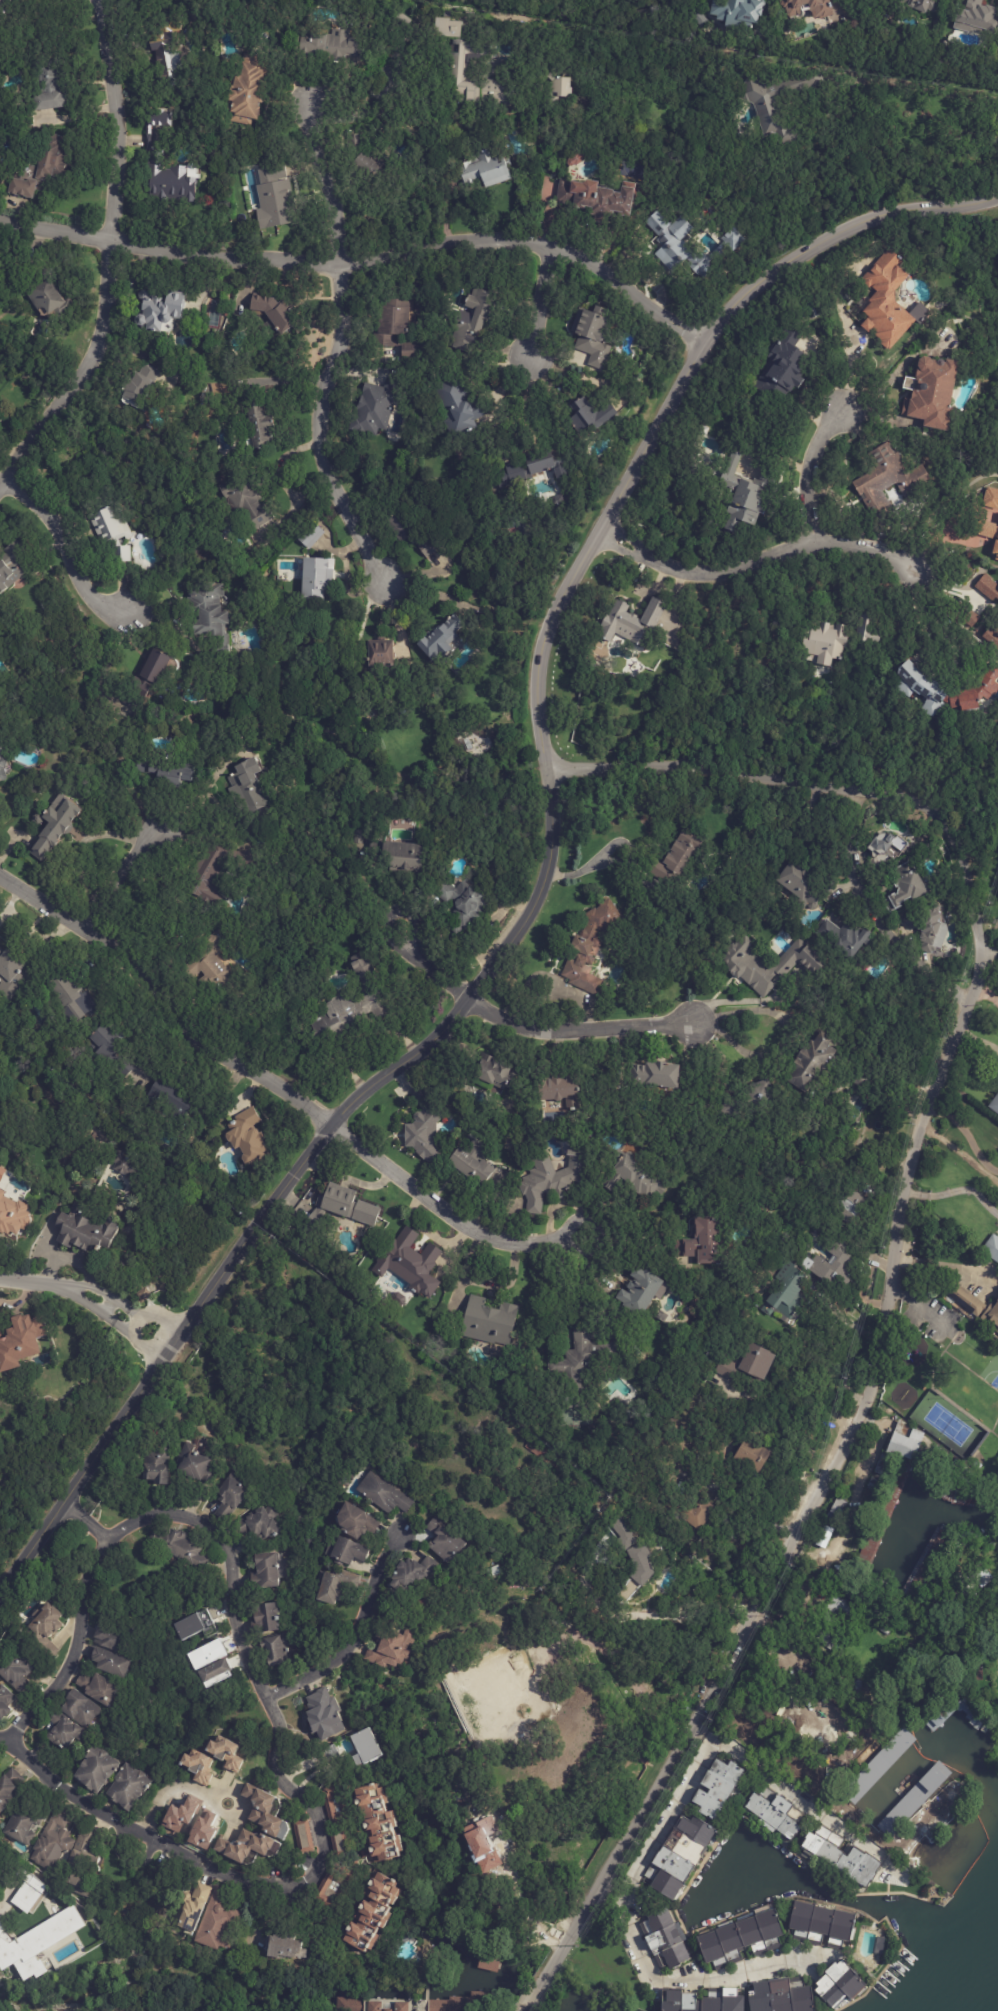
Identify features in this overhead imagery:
building: (5, 5)
building: (922, 5)
building: (822, 10)
building: (738, 12)
building: (696, 15)
building: (404, 16)
building: (977, 18)
building: (327, 44)
building: (166, 48)
building: (463, 60)
building: (501, 61)
road: (922, 83)
building: (559, 88)
building: (46, 90)
building: (246, 91)
building: (768, 112)
building: (51, 158)
building: (155, 158)
building: (361, 158)
building: (576, 159)
building: (486, 169)
building: (20, 188)
building: (274, 200)
building: (596, 200)
building: (675, 247)
road: (361, 256)
road: (108, 257)
building: (47, 296)
building: (883, 297)
road: (541, 298)
building: (158, 311)
building: (273, 312)
building: (471, 320)
building: (392, 324)
building: (592, 336)
road: (337, 349)
building: (409, 353)
building: (783, 368)
building: (139, 386)
road: (669, 390)
building: (929, 391)
building: (458, 407)
building: (375, 408)
building: (589, 417)
building: (258, 427)
building: (704, 432)
building: (705, 453)
building: (539, 467)
building: (690, 470)
road: (808, 471)
building: (889, 478)
building: (746, 495)
building: (991, 497)
building: (246, 505)
building: (111, 530)
building: (989, 531)
building: (311, 535)
building: (413, 535)
road: (67, 548)
road: (752, 560)
building: (10, 564)
building: (315, 576)
building: (987, 587)
building: (208, 612)
building: (632, 622)
building: (867, 628)
building: (440, 636)
building: (991, 637)
building: (825, 642)
road: (959, 648)
building: (380, 652)
building: (144, 678)
building: (920, 687)
building: (839, 706)
building: (0, 751)
building: (1, 769)
building: (164, 771)
building: (248, 786)
building: (55, 826)
building: (357, 836)
building: (886, 849)
building: (399, 853)
building: (676, 859)
road: (122, 868)
building: (206, 875)
building: (805, 884)
building: (907, 884)
building: (460, 904)
building: (252, 910)
road: (874, 912)
building: (926, 926)
building: (845, 937)
building: (713, 944)
building: (590, 947)
road: (988, 949)
building: (769, 964)
building: (209, 968)
building: (11, 973)
road: (986, 993)
building: (63, 994)
building: (352, 1006)
road: (525, 1024)
road: (790, 1037)
building: (109, 1049)
building: (811, 1063)
building: (497, 1073)
building: (655, 1076)
building: (862, 1076)
road: (274, 1088)
building: (560, 1090)
building: (172, 1099)
building: (750, 1100)
building: (994, 1105)
building: (424, 1126)
road: (966, 1135)
building: (247, 1138)
building: (471, 1163)
building: (126, 1167)
building: (632, 1178)
building: (551, 1179)
road: (288, 1185)
road: (954, 1192)
building: (1, 1194)
building: (338, 1201)
building: (850, 1206)
building: (13, 1219)
building: (315, 1219)
building: (84, 1230)
building: (818, 1234)
building: (704, 1243)
building: (991, 1247)
road: (894, 1253)
building: (778, 1257)
building: (408, 1263)
building: (831, 1266)
road: (943, 1267)
road: (95, 1288)
building: (640, 1293)
building: (785, 1294)
building: (142, 1296)
building: (398, 1299)
building: (975, 1305)
building: (450, 1316)
building: (661, 1317)
building: (489, 1322)
building: (21, 1343)
road: (833, 1359)
building: (583, 1362)
building: (749, 1365)
building: (901, 1447)
building: (545, 1455)
building: (752, 1458)
building: (155, 1464)
building: (196, 1464)
building: (977, 1466)
building: (232, 1494)
building: (382, 1494)
building: (616, 1507)
building: (837, 1509)
building: (697, 1514)
road: (95, 1515)
building: (356, 1520)
building: (259, 1522)
building: (624, 1534)
building: (823, 1536)
building: (444, 1541)
building: (989, 1545)
building: (178, 1546)
building: (346, 1550)
building: (265, 1570)
building: (412, 1571)
building: (827, 1577)
building: (334, 1584)
building: (834, 1584)
building: (961, 1595)
building: (733, 1596)
building: (423, 1600)
building: (865, 1600)
building: (841, 1607)
building: (996, 1610)
road: (684, 1613)
building: (265, 1617)
building: (832, 1620)
building: (195, 1625)
building: (885, 1630)
building: (43, 1633)
building: (826, 1634)
building: (108, 1637)
road: (360, 1637)
building: (390, 1648)
building: (276, 1649)
building: (108, 1661)
building: (17, 1669)
building: (979, 1670)
building: (215, 1672)
building: (96, 1687)
road: (632, 1687)
building: (522, 1689)
building: (875, 1698)
building: (5, 1701)
road: (267, 1704)
building: (80, 1709)
building: (323, 1715)
building: (578, 1717)
building: (747, 1726)
building: (63, 1731)
road: (5, 1739)
building: (365, 1748)
building: (226, 1752)
building: (329, 1753)
building: (540, 1755)
building: (884, 1764)
building: (198, 1766)
building: (95, 1769)
building: (804, 1769)
building: (553, 1773)
building: (820, 1784)
building: (717, 1787)
building: (9, 1788)
building: (128, 1788)
road: (168, 1788)
road: (799, 1800)
building: (331, 1804)
building: (911, 1804)
road: (240, 1810)
building: (266, 1812)
building: (776, 1815)
building: (61, 1816)
building: (850, 1819)
building: (24, 1823)
road: (664, 1823)
building: (377, 1825)
building: (303, 1836)
building: (338, 1842)
building: (248, 1847)
building: (50, 1849)
building: (679, 1856)
building: (838, 1857)
building: (81, 1862)
building: (353, 1863)
building: (333, 1888)
building: (31, 1893)
building: (192, 1909)
building: (368, 1914)
building: (217, 1923)
building: (817, 1923)
building: (666, 1939)
building: (741, 1939)
building: (36, 1941)
building: (283, 1948)
road: (679, 1982)
building: (840, 1985)
building: (783, 1997)
building: (703, 2001)
building: (462, 2003)
building: (348, 2004)
building: (374, 2006)
building: (401, 2007)
building: (387, 2010)

